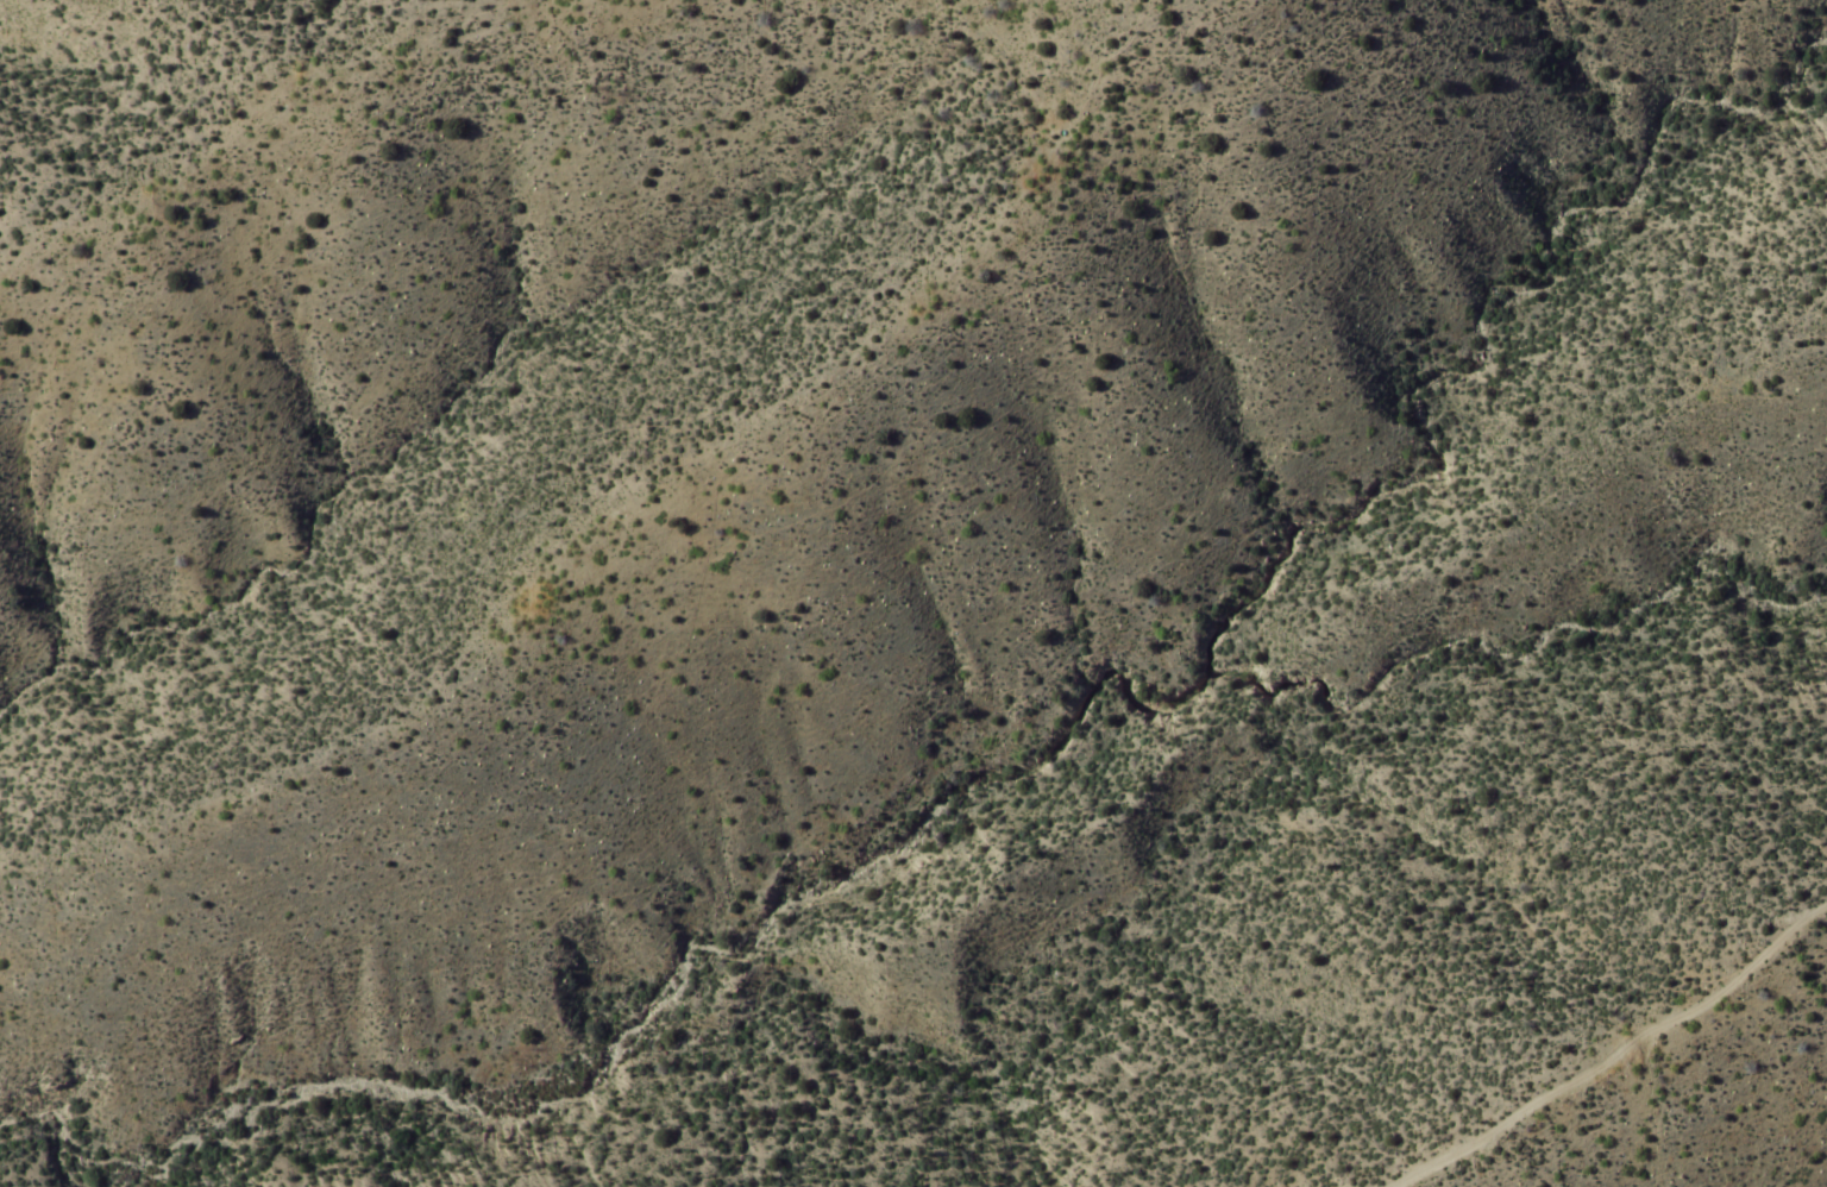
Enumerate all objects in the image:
road: (1612, 1051)

